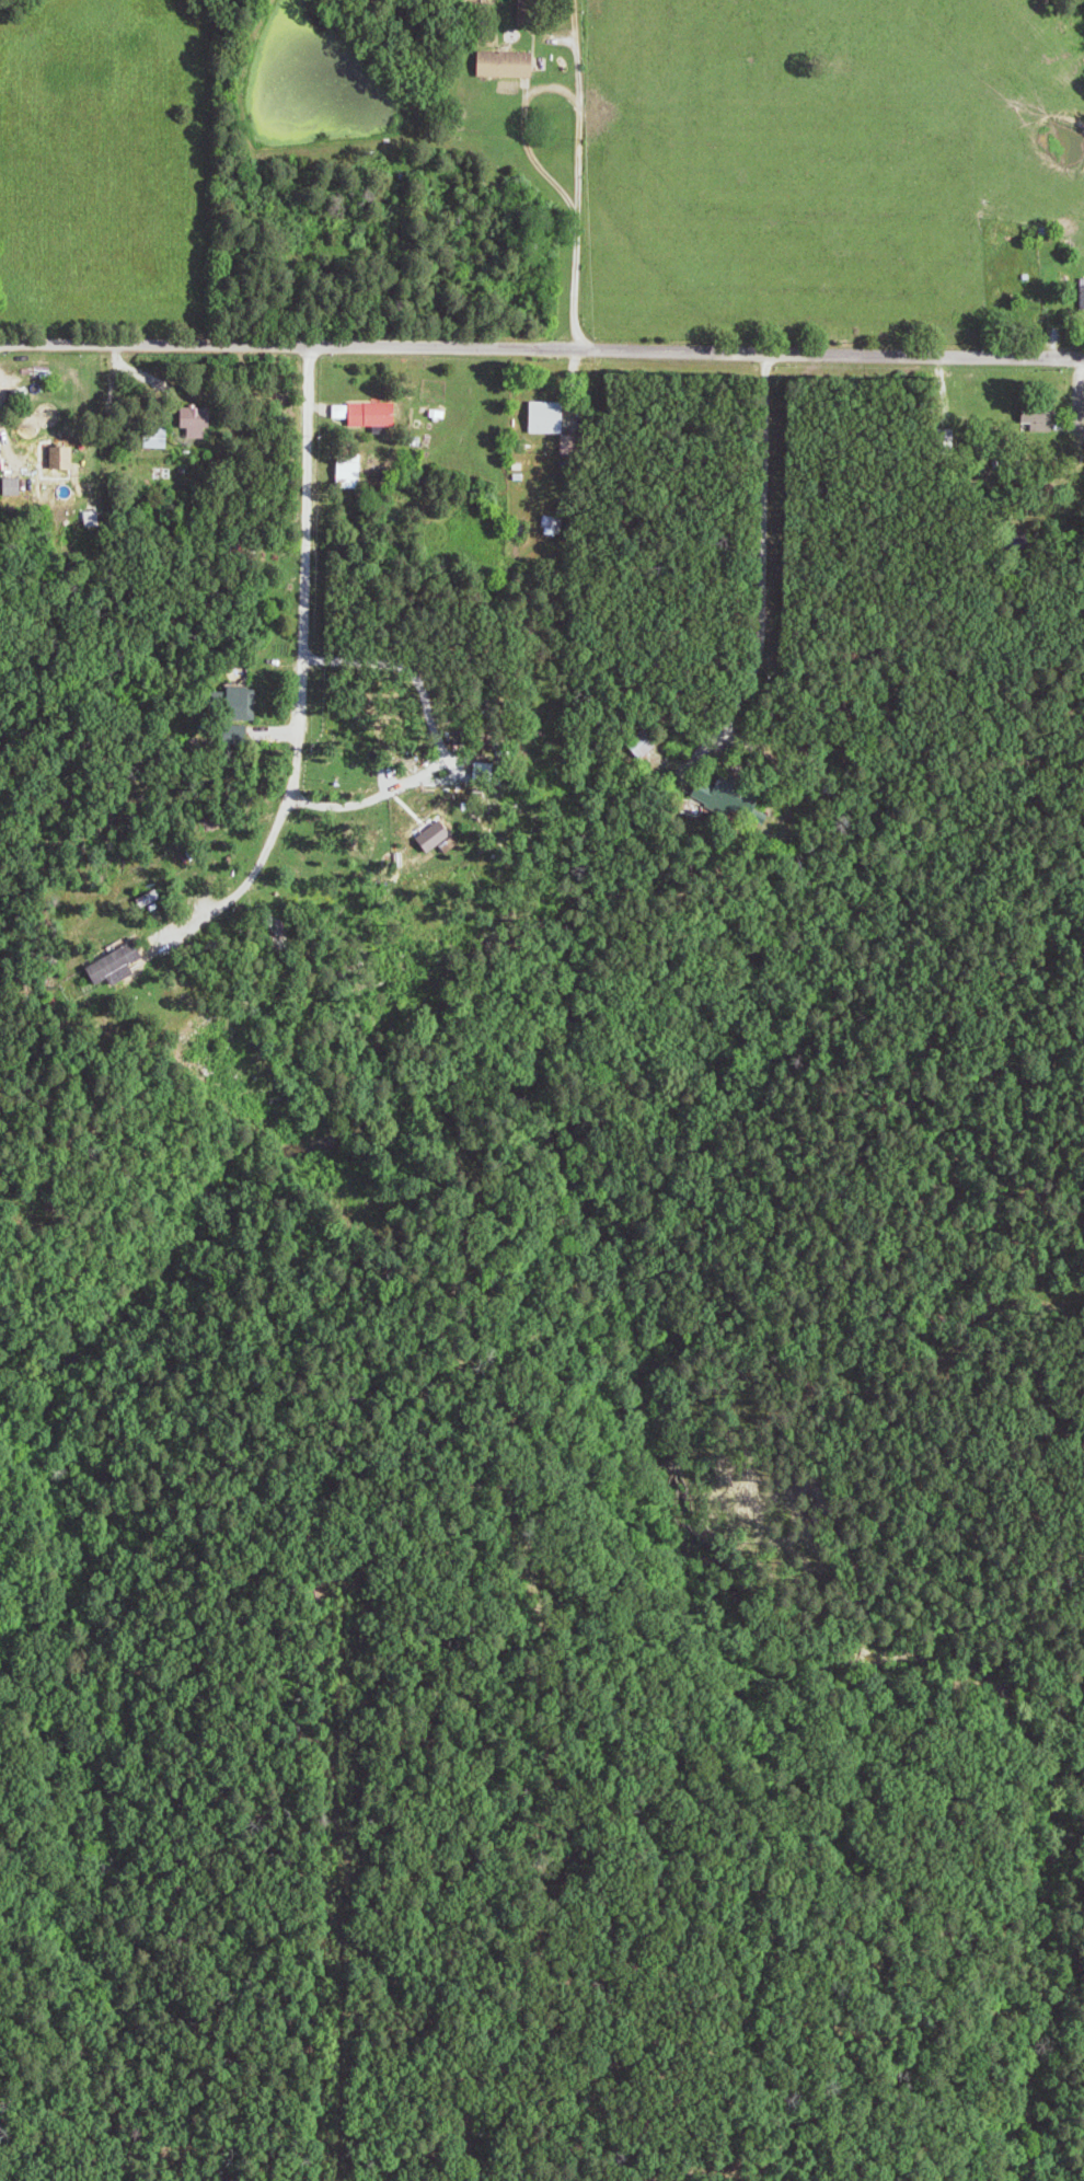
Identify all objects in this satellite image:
building: (510, 65)
road: (523, 125)
road: (542, 348)
road: (159, 380)
building: (372, 413)
building: (550, 418)
road: (7, 453)
building: (66, 462)
building: (16, 486)
road: (562, 523)
road: (765, 608)
road: (303, 679)
building: (439, 835)
building: (120, 965)

